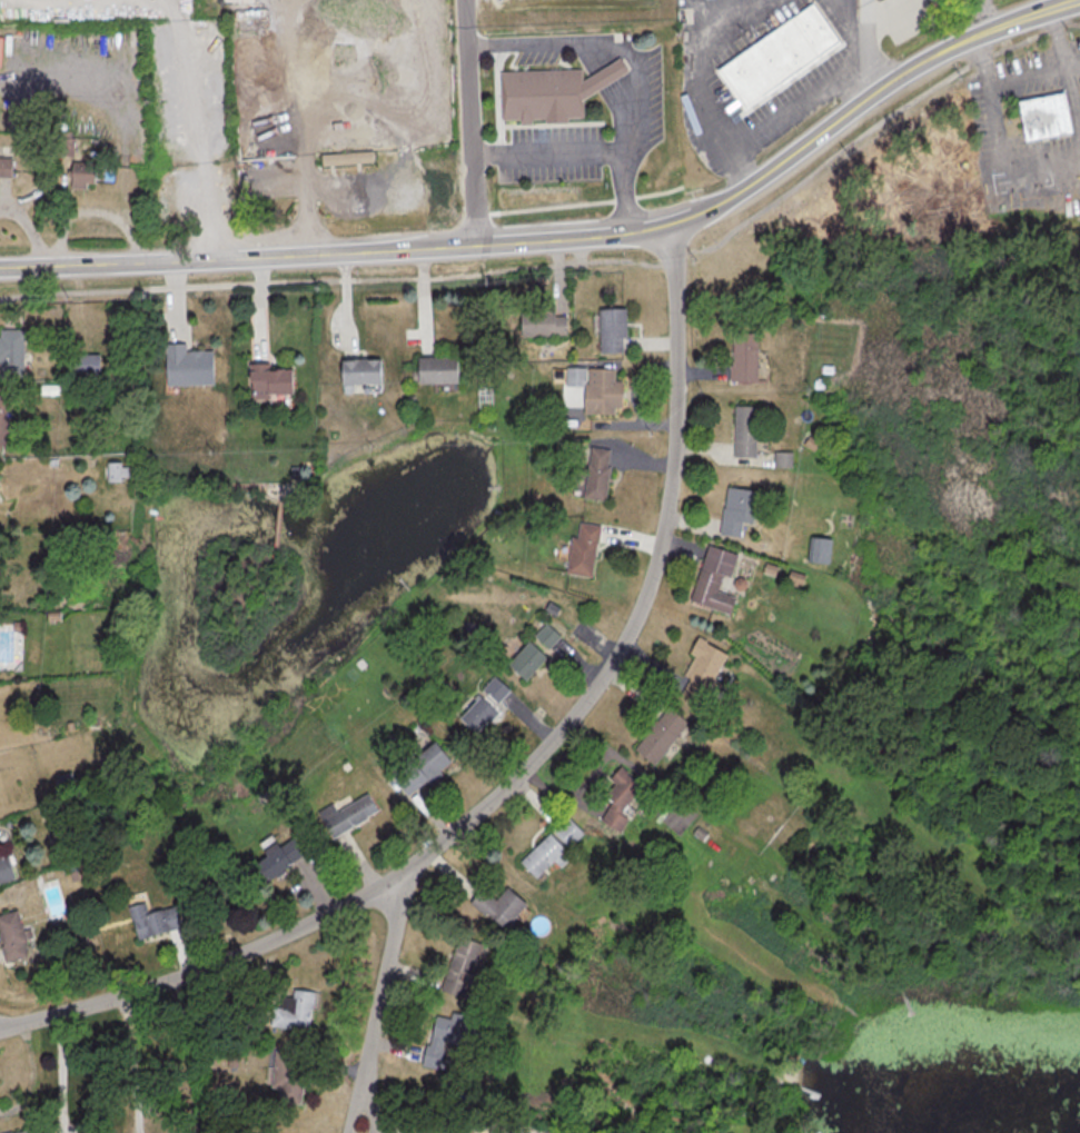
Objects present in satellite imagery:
parking lot: (562, 13)
road: (993, 14)
building: (822, 28)
road: (605, 43)
road: (601, 54)
building: (773, 63)
road: (55, 69)
road: (1031, 73)
road: (613, 74)
building: (557, 91)
road: (626, 96)
road: (866, 101)
road: (793, 103)
building: (1042, 117)
road: (469, 123)
road: (197, 130)
road: (591, 152)
building: (345, 158)
building: (3, 166)
building: (80, 178)
road: (29, 230)
road: (334, 255)
building: (542, 324)
building: (611, 330)
building: (10, 354)
building: (742, 357)
building: (83, 364)
building: (187, 367)
building: (434, 370)
building: (358, 372)
building: (268, 381)
building: (595, 389)
building: (3, 418)
building: (743, 430)
building: (781, 458)
building: (112, 471)
building: (595, 474)
building: (736, 509)
building: (818, 548)
building: (582, 549)
building: (713, 578)
building: (545, 635)
building: (525, 659)
building: (700, 669)
building: (494, 688)
building: (476, 714)
building: (658, 735)
building: (427, 761)
road: (523, 774)
building: (406, 781)
building: (617, 796)
building: (346, 814)
building: (565, 831)
building: (541, 854)
building: (276, 859)
building: (4, 868)
building: (496, 905)
building: (151, 920)
building: (11, 937)
building: (460, 967)
road: (378, 1002)
building: (293, 1011)
building: (443, 1040)
road: (130, 1065)
building: (284, 1079)
building: (503, 1129)
building: (21, 1132)

